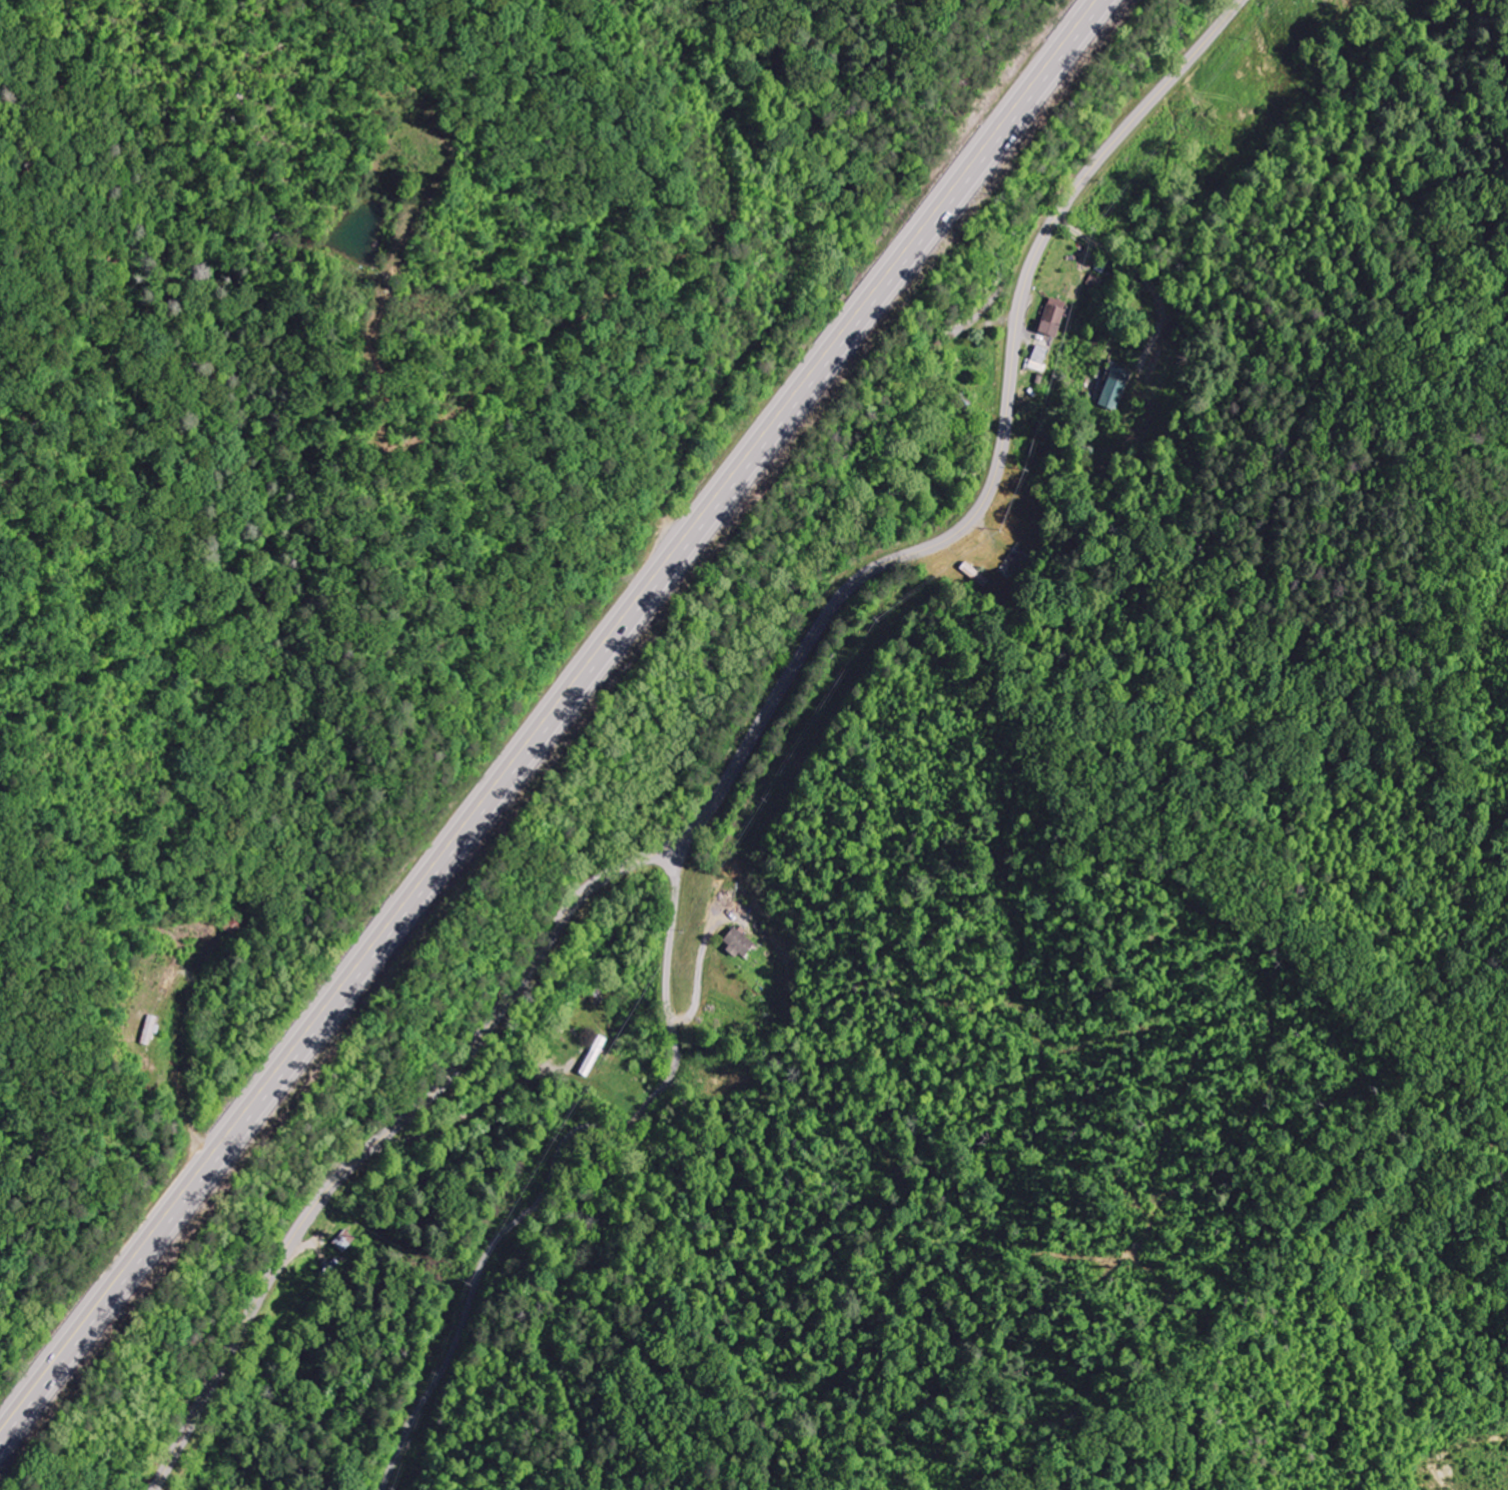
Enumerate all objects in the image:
building: (1050, 317)
building: (1035, 357)
building: (1113, 388)
road: (547, 714)
road: (741, 757)
building: (736, 943)
road: (550, 1187)
building: (343, 1241)
road: (226, 1257)

